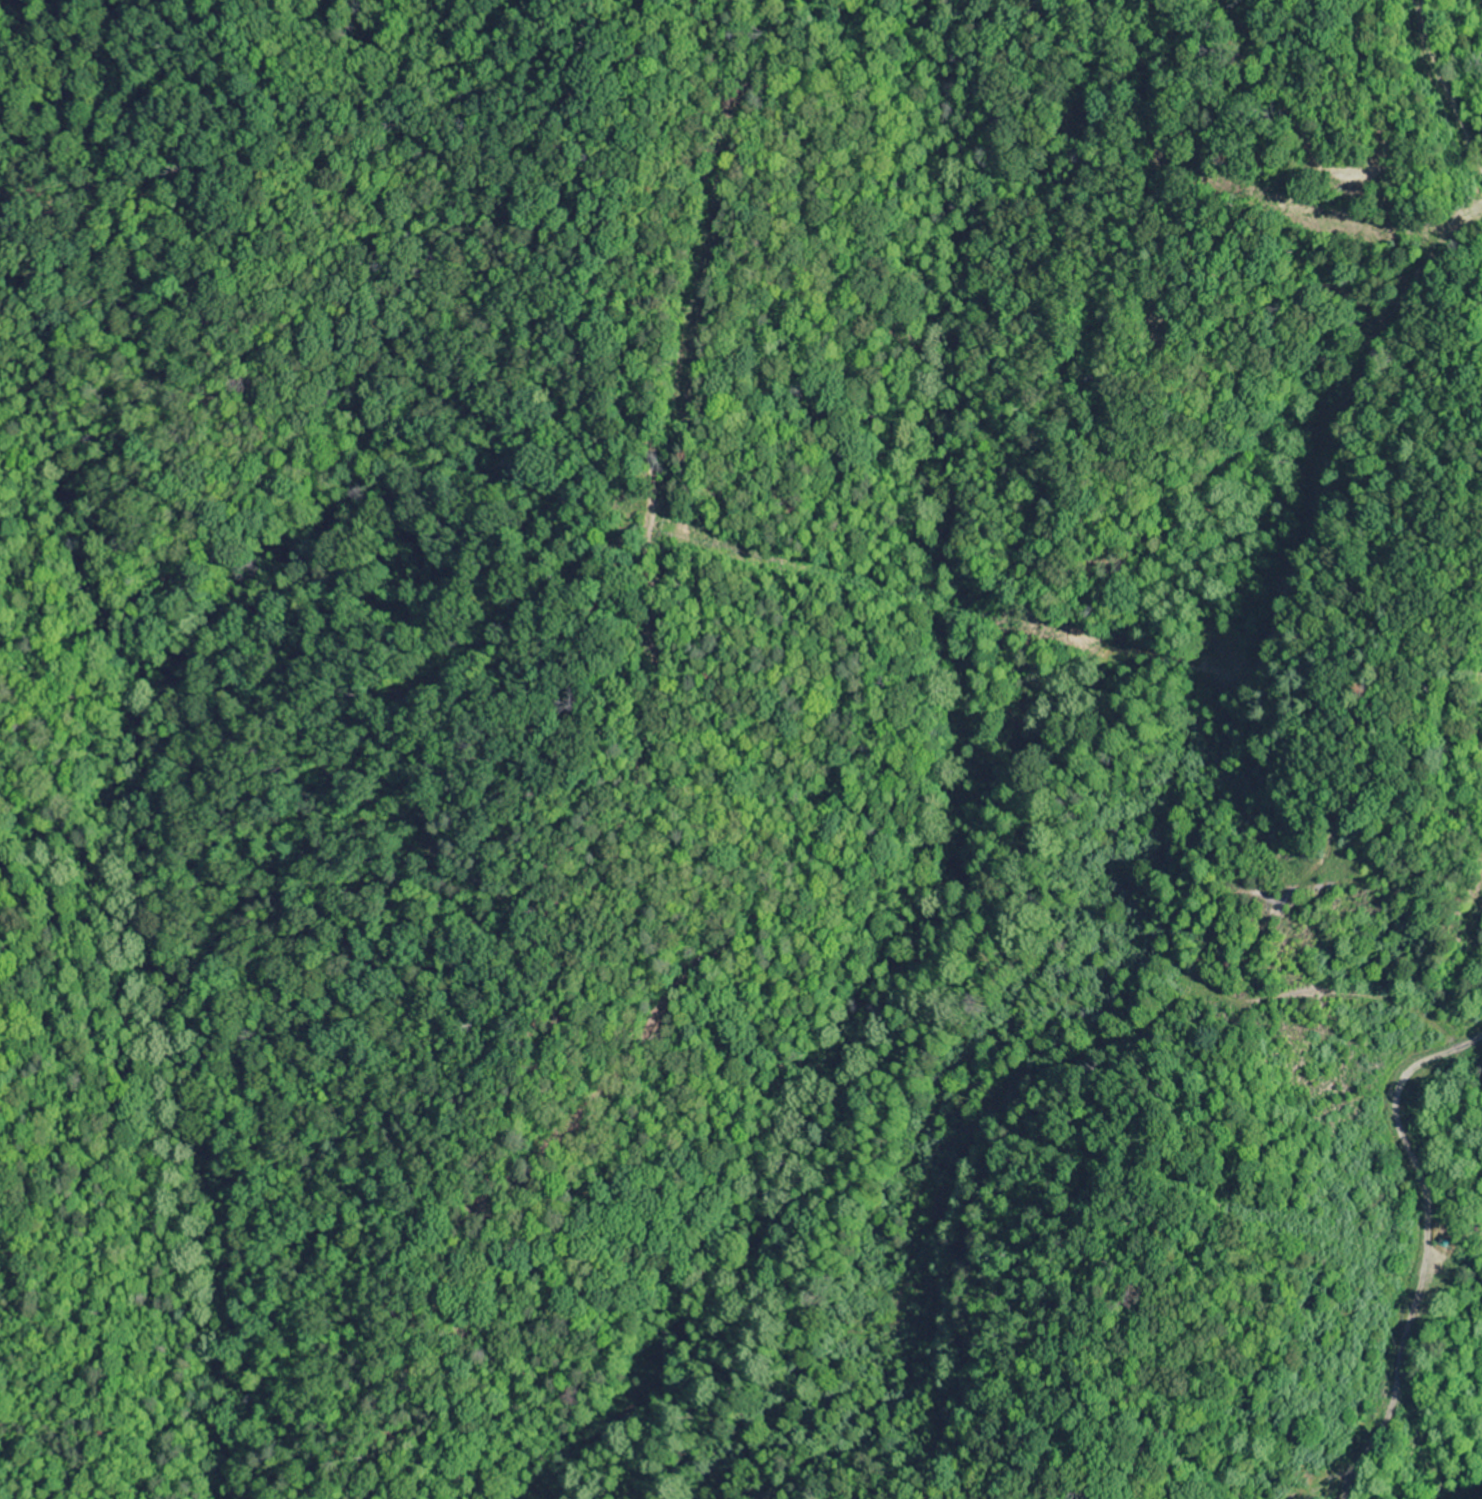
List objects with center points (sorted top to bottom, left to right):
road: (1457, 66)
road: (1478, 766)
road: (1358, 1190)

